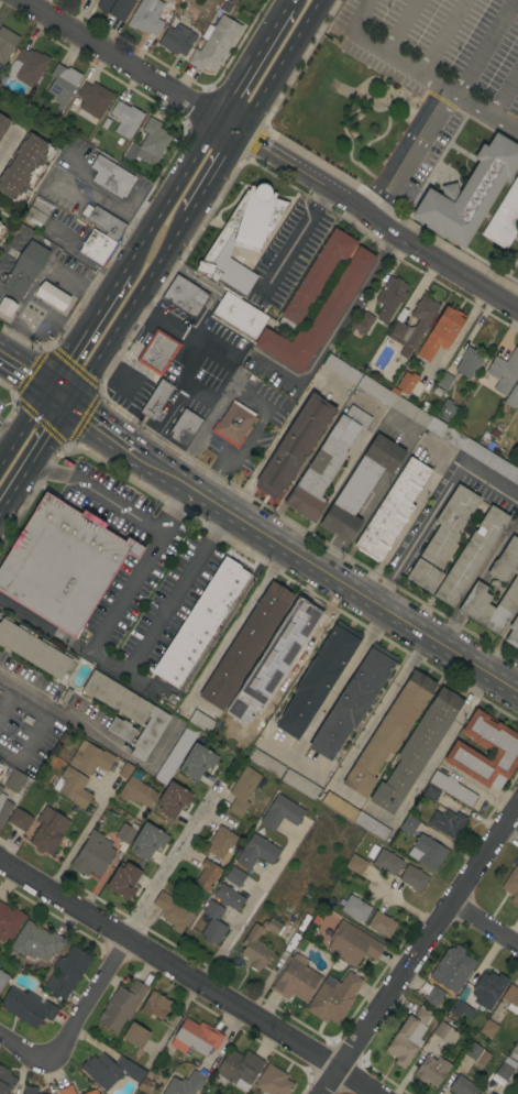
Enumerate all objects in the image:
road: (286, 3)
building: (115, 8)
building: (146, 17)
road: (278, 17)
road: (395, 25)
road: (441, 37)
building: (176, 40)
building: (5, 43)
building: (214, 44)
road: (482, 46)
road: (388, 55)
building: (27, 65)
road: (130, 67)
road: (282, 67)
parking lot: (432, 67)
road: (243, 73)
building: (62, 84)
road: (503, 89)
building: (92, 100)
road: (485, 112)
building: (125, 119)
building: (3, 124)
building: (152, 142)
road: (7, 145)
road: (414, 156)
building: (23, 166)
road: (216, 175)
building: (110, 176)
road: (177, 179)
building: (469, 193)
building: (37, 211)
building: (504, 218)
building: (103, 221)
road: (379, 221)
building: (0, 225)
building: (245, 225)
building: (1, 227)
road: (296, 234)
building: (98, 247)
road: (131, 255)
building: (25, 269)
road: (57, 273)
building: (343, 289)
building: (53, 295)
building: (185, 296)
building: (389, 297)
road: (98, 304)
building: (7, 306)
road: (131, 311)
road: (38, 314)
building: (239, 315)
building: (363, 321)
building: (398, 326)
building: (441, 332)
building: (157, 351)
building: (470, 362)
road: (62, 364)
building: (341, 370)
building: (504, 371)
road: (23, 372)
building: (517, 379)
building: (444, 380)
building: (409, 383)
road: (238, 387)
traffic signals: (46, 390)
building: (511, 396)
building: (156, 398)
road: (59, 400)
road: (172, 406)
traffic signals: (73, 409)
building: (445, 411)
road: (30, 414)
building: (233, 423)
building: (184, 427)
building: (439, 427)
road: (200, 428)
road: (104, 431)
road: (7, 433)
road: (53, 438)
building: (517, 442)
road: (214, 444)
building: (295, 445)
road: (7, 448)
building: (324, 464)
road: (257, 467)
building: (360, 486)
road: (16, 493)
building: (392, 511)
road: (176, 512)
building: (449, 525)
road: (414, 532)
building: (471, 555)
building: (63, 562)
road: (327, 573)
building: (425, 576)
building: (478, 584)
building: (200, 622)
road: (107, 623)
road: (46, 628)
building: (513, 633)
building: (298, 634)
road: (227, 635)
building: (284, 635)
building: (245, 645)
building: (35, 649)
building: (288, 660)
building: (318, 679)
road: (515, 682)
road: (339, 685)
road: (18, 689)
building: (353, 701)
road: (379, 710)
building: (128, 713)
building: (201, 721)
building: (388, 732)
building: (159, 740)
road: (439, 747)
building: (502, 748)
building: (417, 750)
building: (176, 754)
building: (90, 758)
building: (197, 761)
building: (265, 763)
road: (305, 768)
building: (125, 770)
building: (14, 780)
building: (299, 784)
building: (73, 787)
building: (1, 788)
building: (453, 788)
building: (136, 790)
building: (242, 790)
road: (344, 792)
building: (431, 794)
building: (173, 799)
building: (339, 806)
building: (4, 808)
building: (282, 812)
road: (381, 816)
building: (19, 819)
building: (447, 822)
building: (409, 824)
building: (372, 827)
building: (48, 831)
building: (125, 832)
road: (84, 833)
building: (147, 840)
building: (221, 842)
building: (256, 851)
building: (427, 852)
building: (92, 854)
building: (387, 862)
building: (356, 864)
road: (174, 866)
building: (207, 875)
building: (234, 876)
building: (414, 877)
building: (124, 879)
building: (511, 884)
building: (229, 897)
road: (254, 902)
building: (355, 908)
building: (173, 911)
road: (487, 917)
building: (9, 921)
building: (213, 923)
building: (382, 923)
building: (272, 926)
building: (36, 941)
building: (352, 943)
building: (254, 949)
road: (419, 950)
building: (452, 969)
building: (67, 972)
road: (187, 977)
building: (2, 978)
building: (296, 980)
building: (488, 988)
building: (462, 994)
building: (334, 996)
building: (433, 996)
building: (511, 998)
building: (121, 1005)
building: (155, 1005)
building: (26, 1006)
building: (456, 1007)
road: (70, 1021)
building: (488, 1028)
building: (441, 1030)
building: (135, 1036)
building: (196, 1037)
building: (406, 1038)
building: (515, 1051)
building: (476, 1053)
building: (239, 1068)
building: (506, 1069)
building: (110, 1070)
building: (431, 1070)
building: (5, 1081)
building: (273, 1081)
building: (185, 1084)
building: (463, 1086)
building: (30, 1090)
building: (65, 1090)
building: (91, 1092)
building: (489, 1093)
building: (492, 1093)

